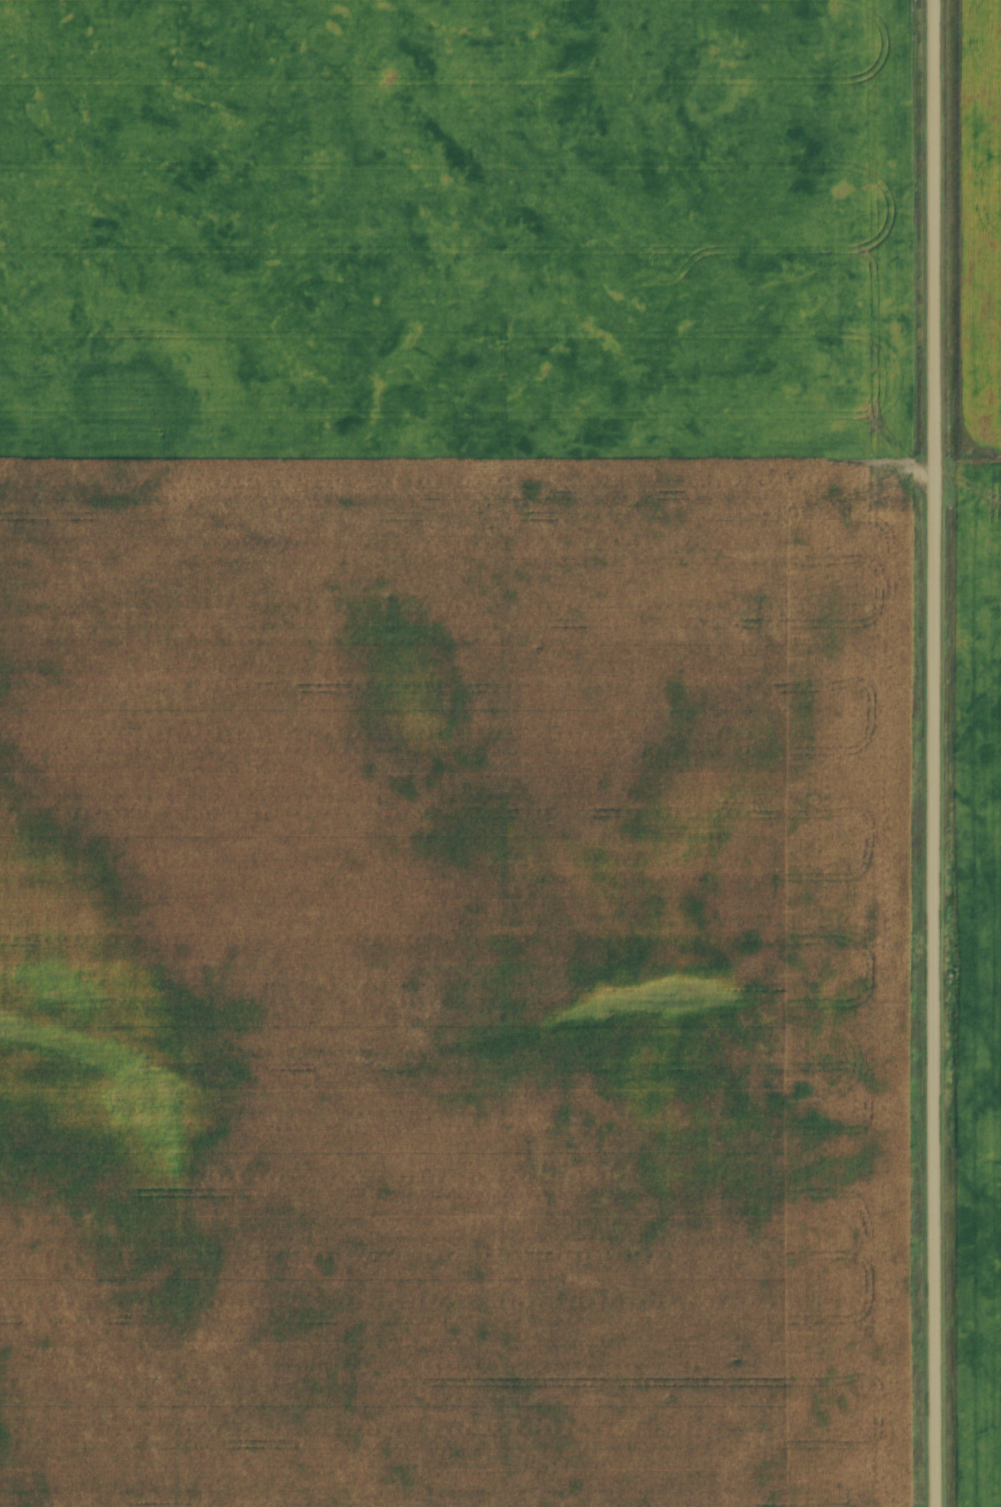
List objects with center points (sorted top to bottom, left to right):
road: (935, 753)

